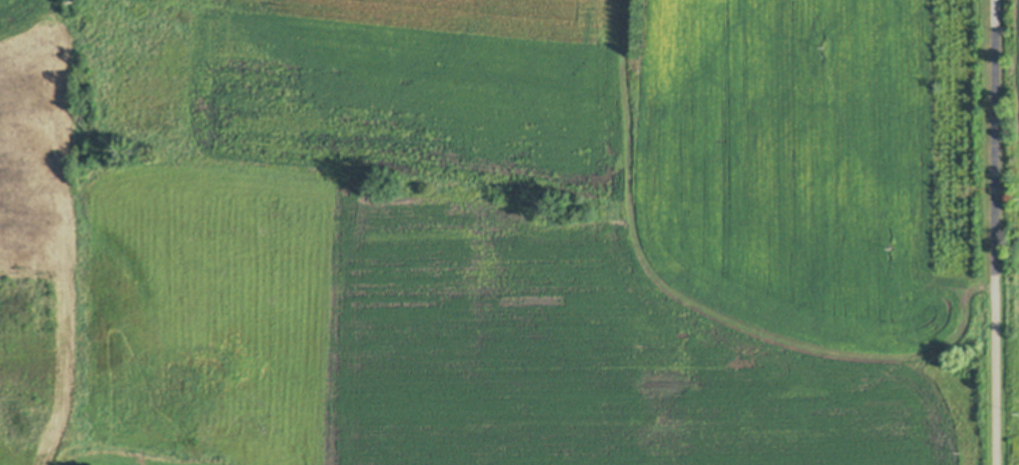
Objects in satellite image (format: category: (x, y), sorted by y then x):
road: (997, 232)

